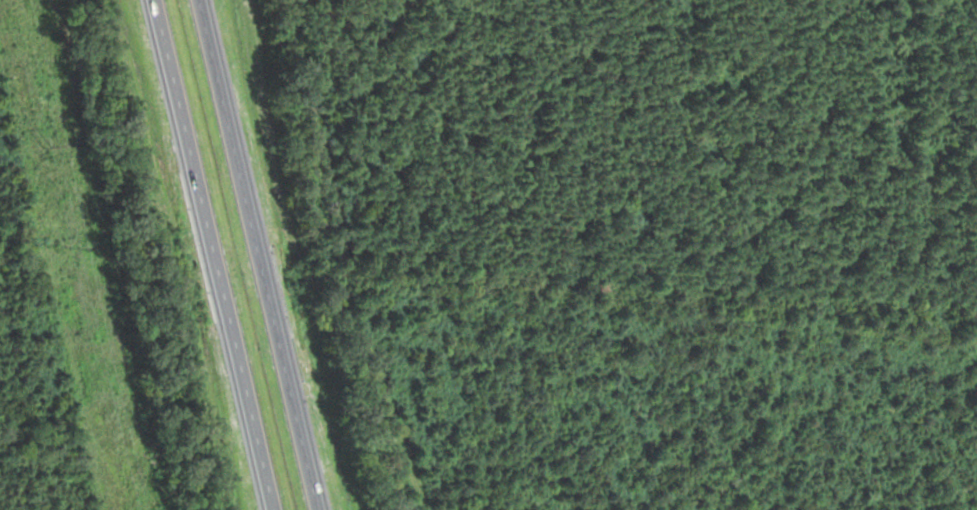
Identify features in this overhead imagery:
power tower: (46, 143)
road: (213, 254)
road: (258, 255)

